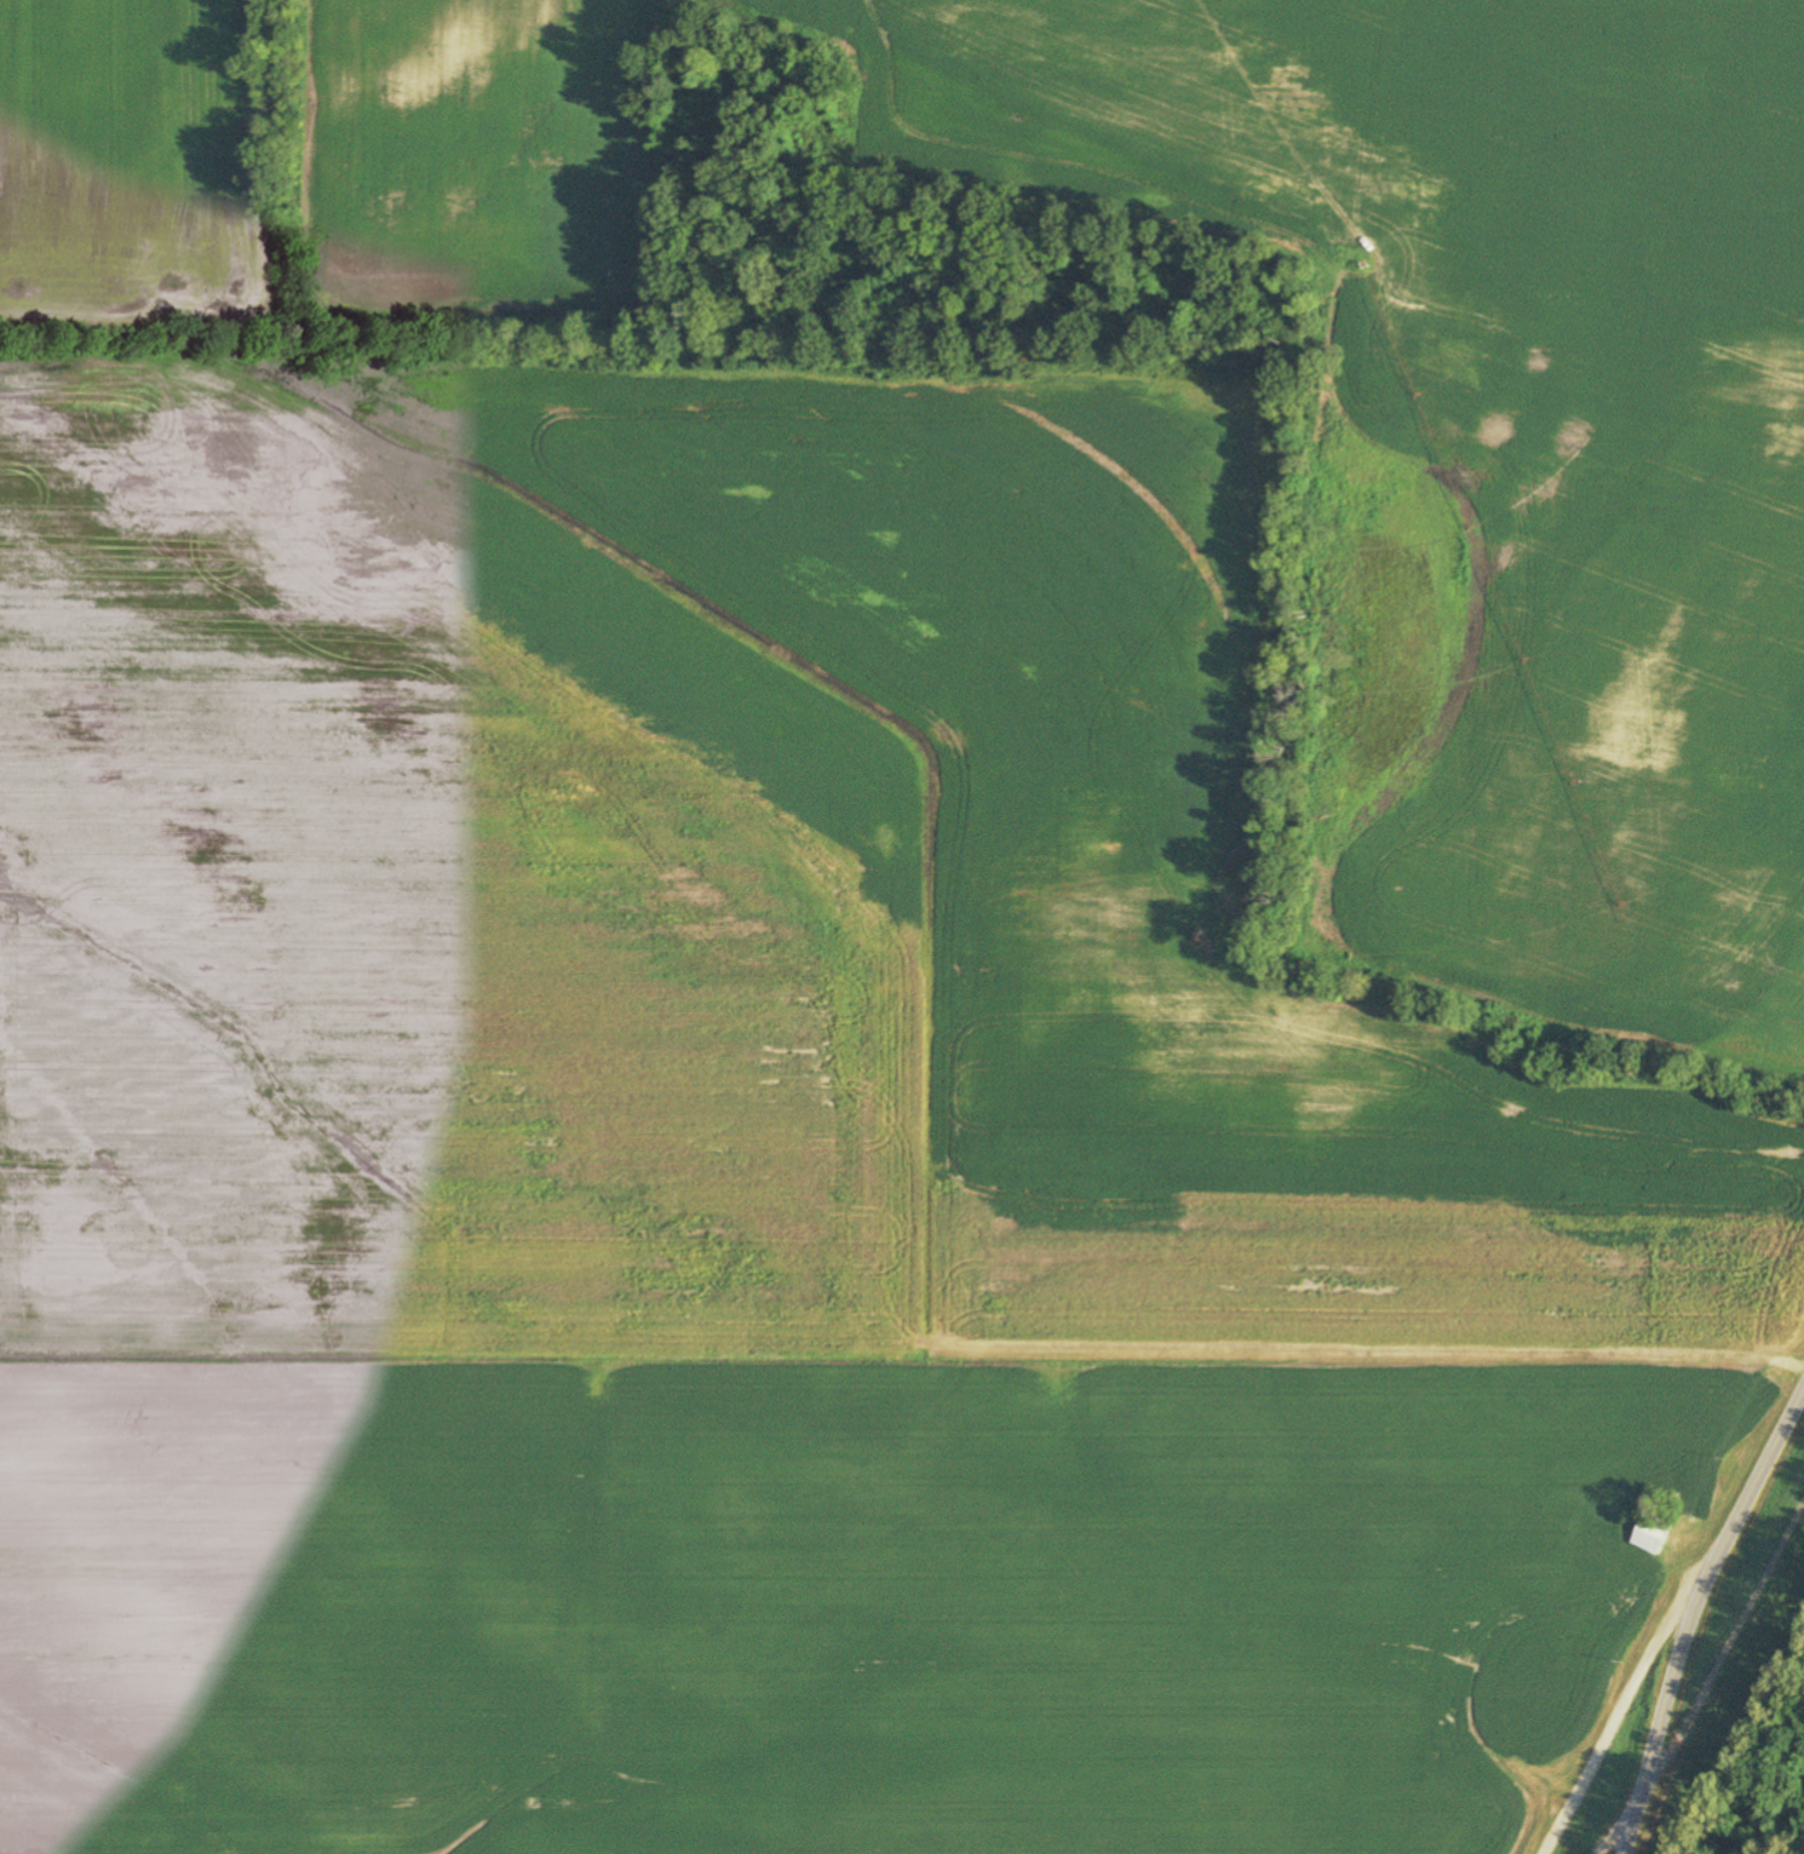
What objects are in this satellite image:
park: (720, 149)
road: (1694, 1611)
road: (1712, 1688)
road: (1620, 1710)

